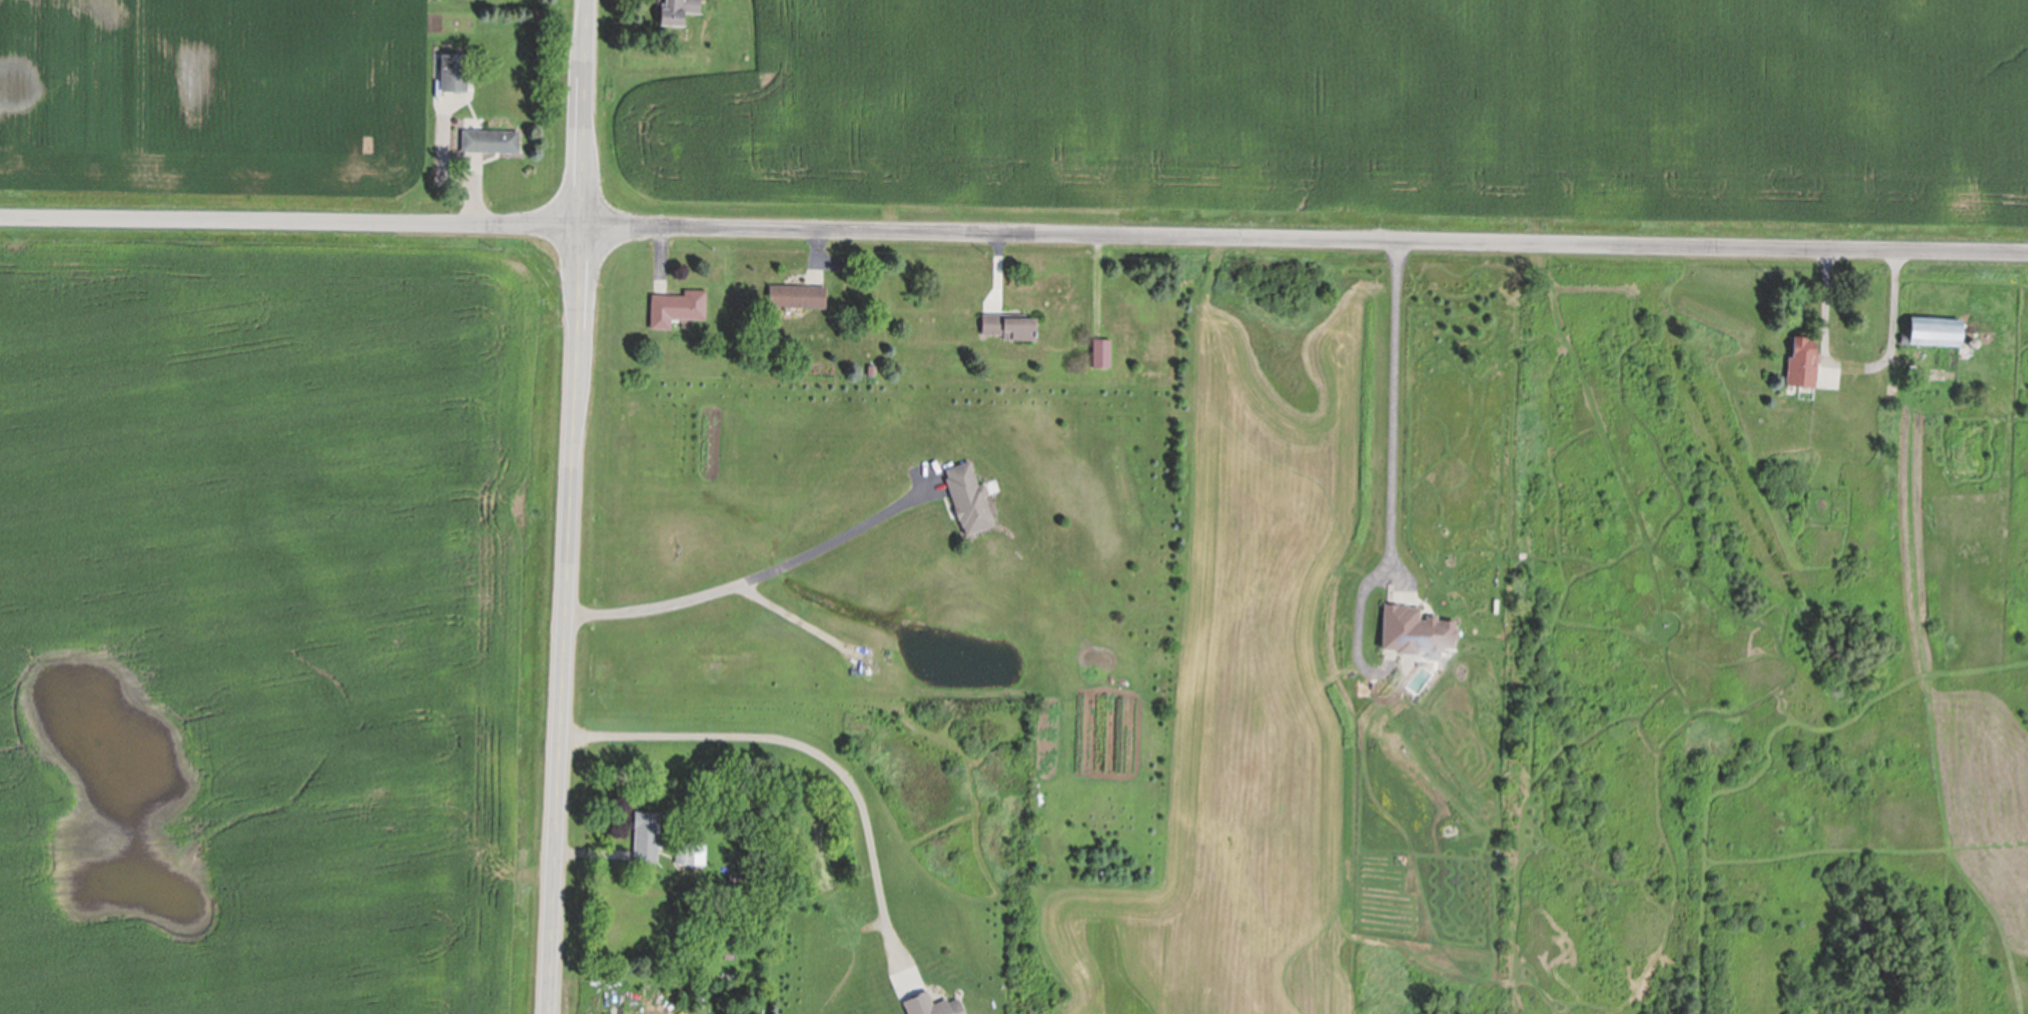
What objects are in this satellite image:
building: (678, 9)
building: (455, 70)
crop: (197, 103)
crop: (1353, 104)
building: (491, 140)
road: (1014, 233)
building: (797, 295)
building: (680, 304)
road: (1892, 305)
building: (1010, 325)
building: (1934, 330)
building: (1972, 342)
building: (1102, 351)
building: (1802, 362)
road: (1391, 408)
building: (969, 497)
road: (567, 507)
road: (759, 584)
building: (1415, 630)
road: (816, 755)
building: (646, 836)
building: (689, 851)
building: (737, 877)
building: (931, 1005)

